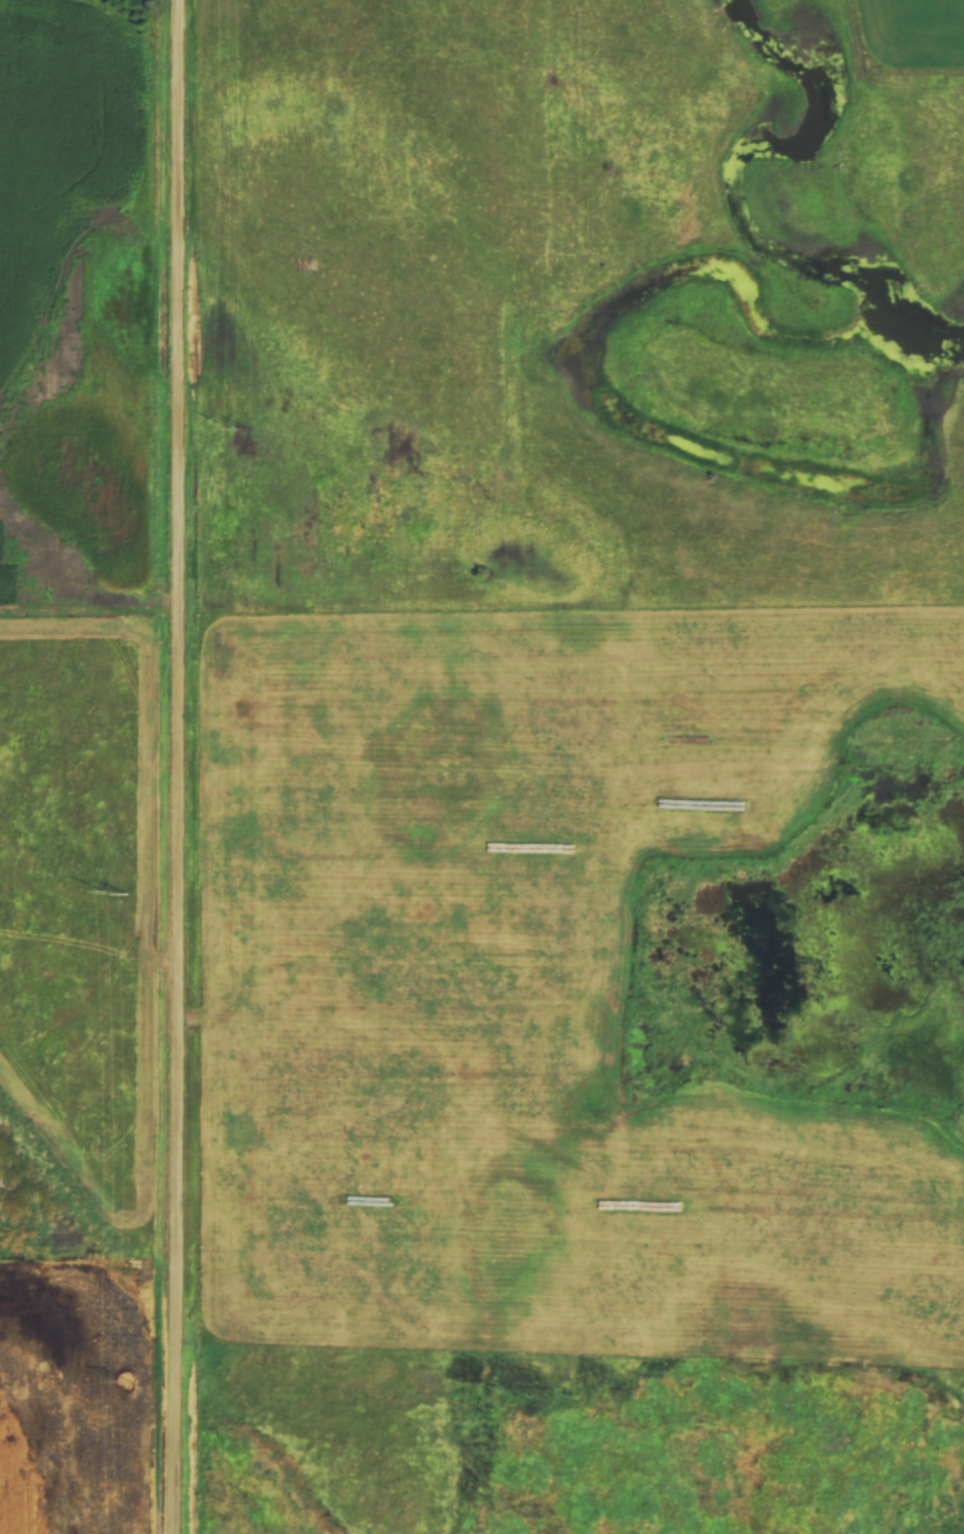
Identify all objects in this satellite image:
river: (730, 189)
power tower: (239, 429)
road: (172, 767)
power tower: (115, 894)
power tower: (124, 1383)

